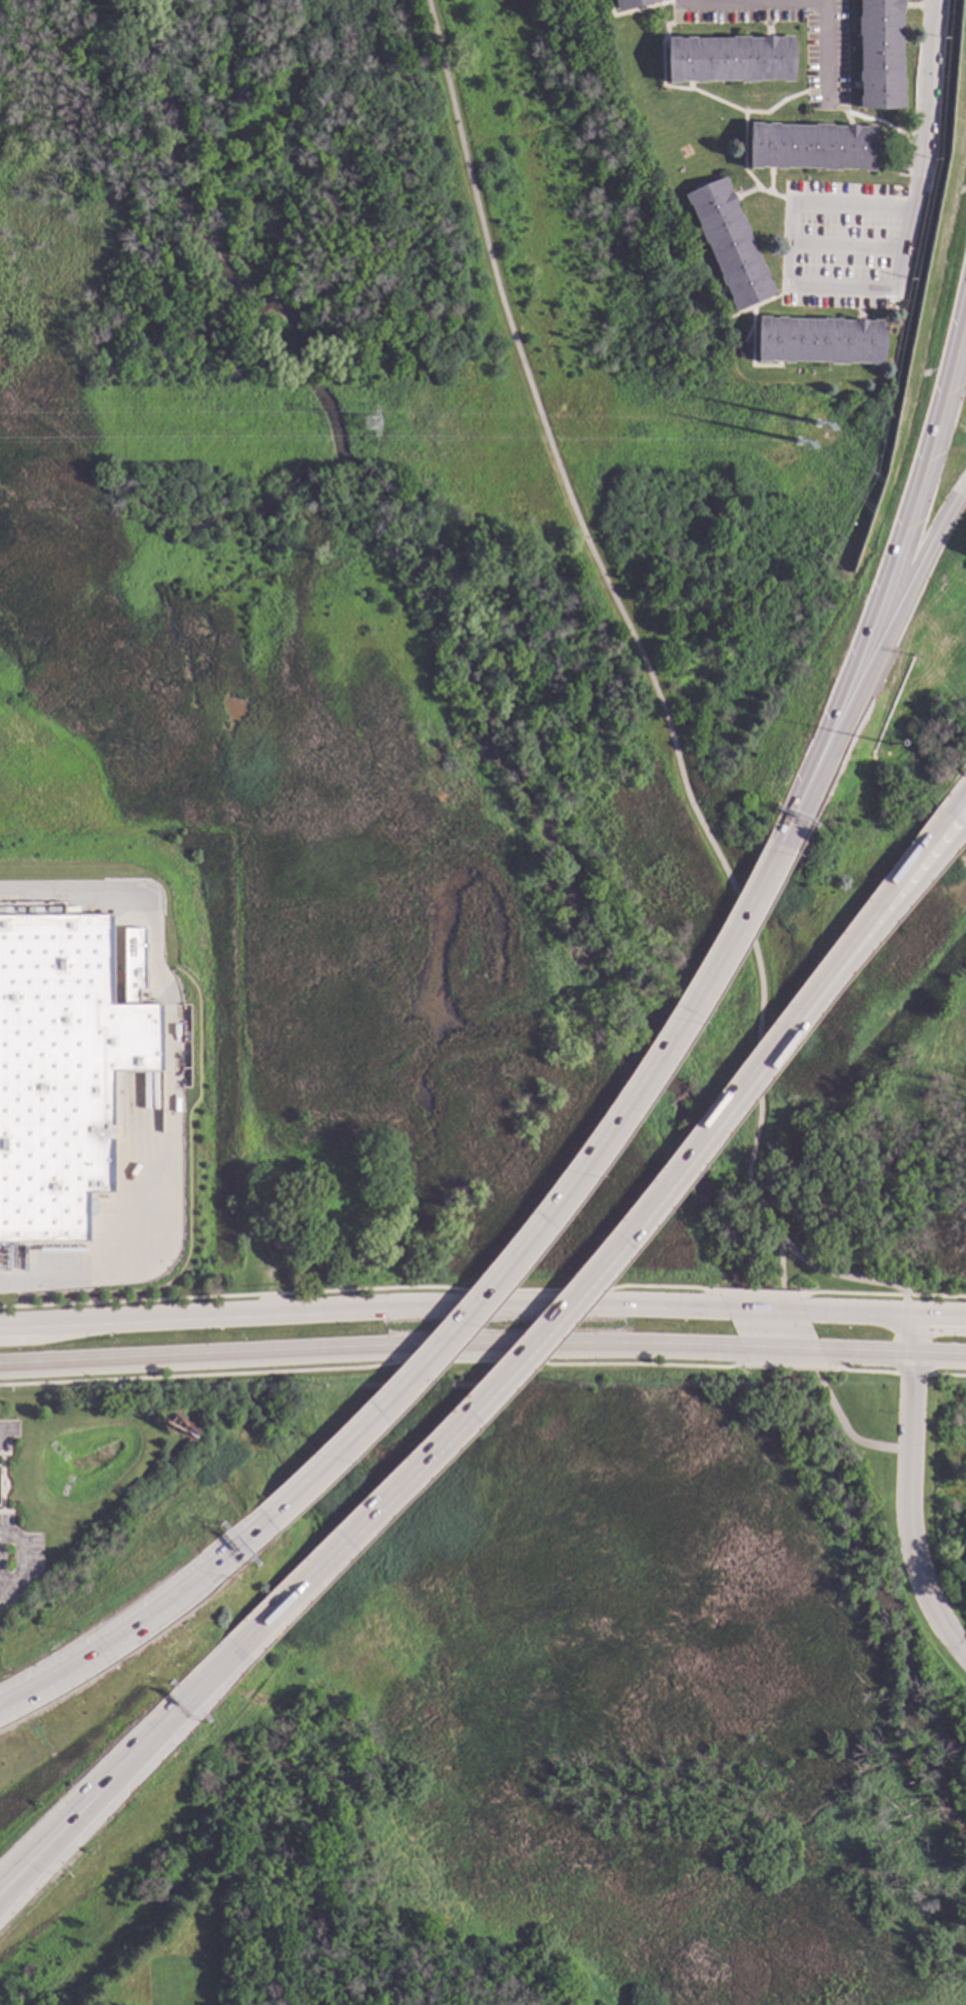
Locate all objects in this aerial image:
road: (798, 0)
building: (631, 3)
building: (880, 54)
building: (729, 60)
parking lot: (828, 65)
building: (810, 147)
road: (915, 148)
parking lot: (852, 237)
road: (788, 240)
building: (729, 244)
park: (120, 269)
building: (818, 341)
building: (743, 351)
power tower: (778, 421)
power tower: (367, 423)
road: (914, 512)
park: (450, 578)
road: (907, 594)
road: (672, 748)
river: (594, 856)
building: (46, 910)
building: (61, 1071)
road: (165, 1085)
road: (607, 1126)
road: (676, 1172)
park: (888, 1197)
building: (283, 1240)
road: (842, 1275)
road: (361, 1305)
road: (763, 1307)
road: (885, 1311)
road: (899, 1343)
road: (912, 1343)
road: (369, 1347)
road: (781, 1351)
road: (893, 1354)
road: (918, 1373)
road: (910, 1412)
road: (6, 1430)
park: (950, 1474)
road: (915, 1560)
road: (20, 1568)
road: (154, 1613)
road: (246, 1648)
park: (632, 1718)
road: (61, 1831)
road: (61, 1839)

